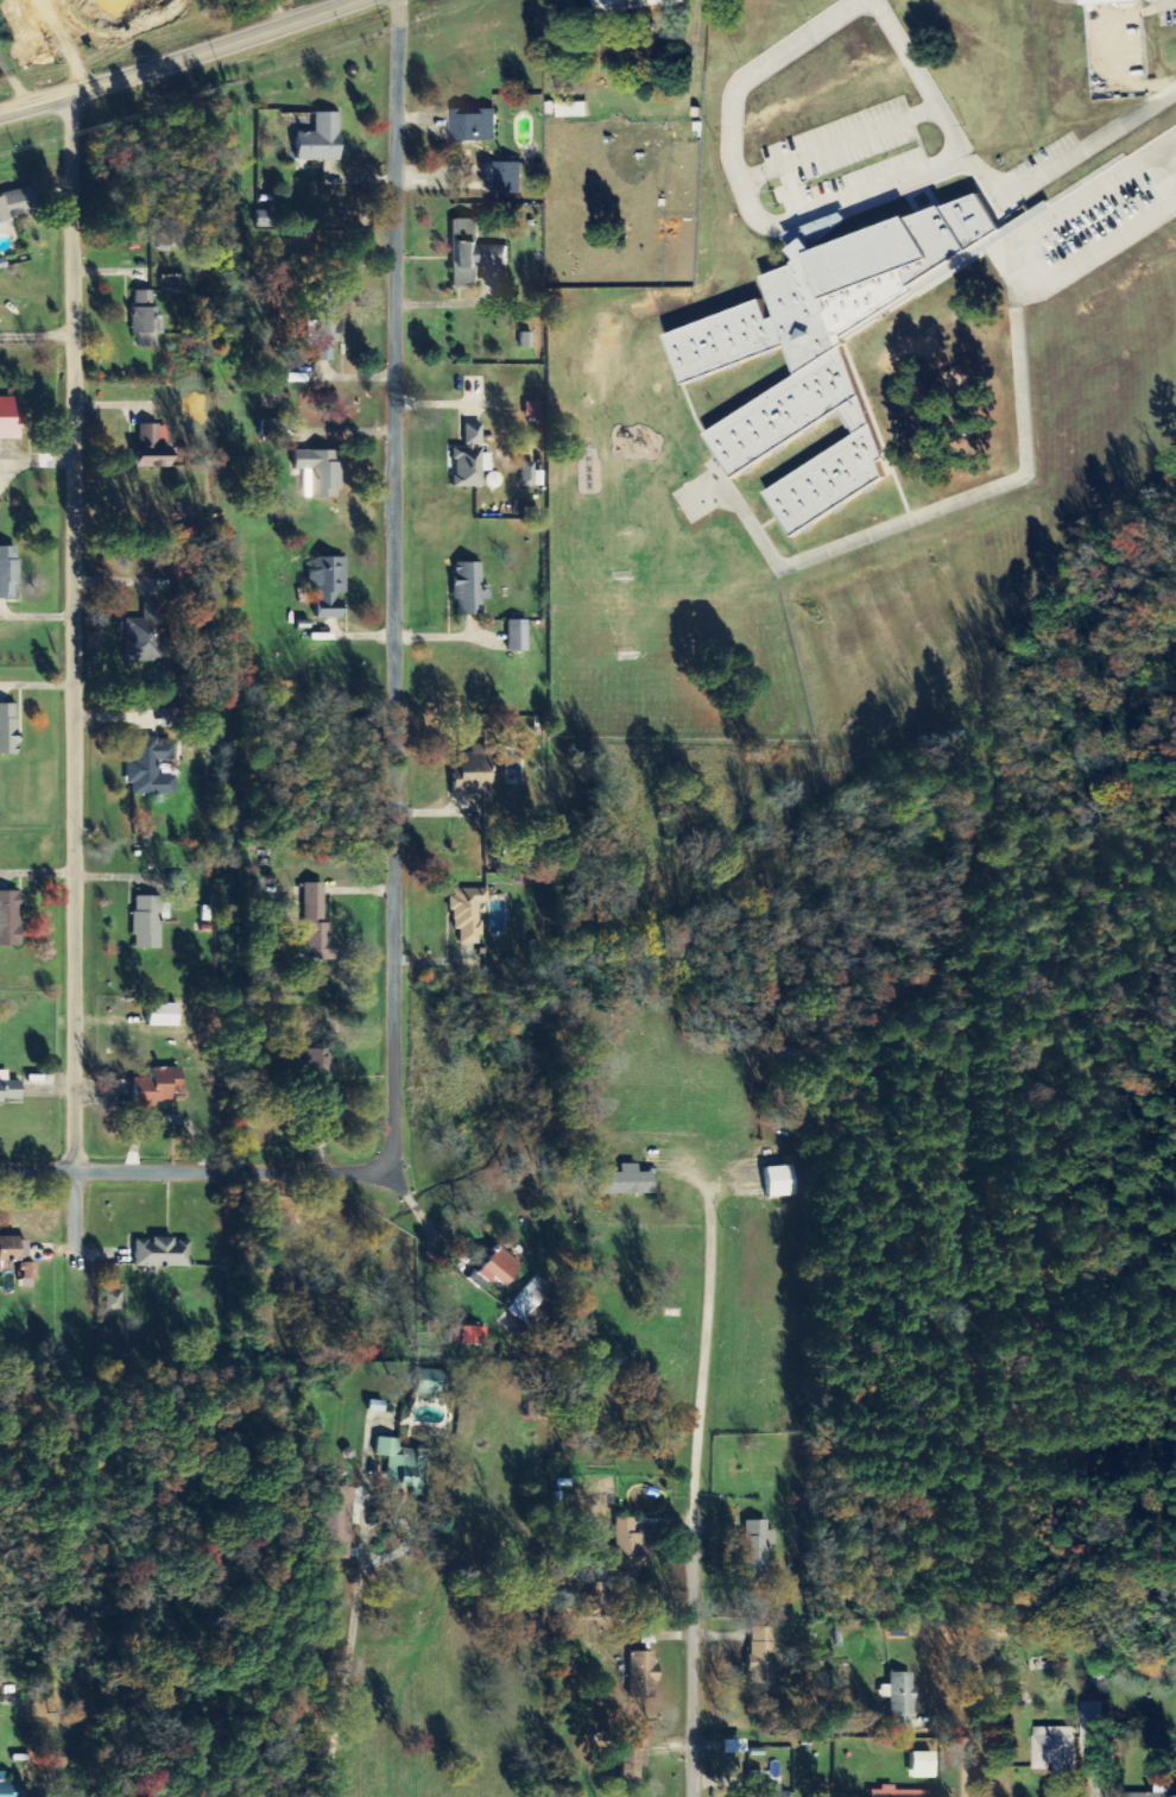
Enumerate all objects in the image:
building: (1108, 1)
building: (634, 5)
road: (103, 39)
road: (61, 45)
road: (182, 57)
building: (574, 111)
building: (474, 126)
building: (322, 139)
road: (837, 143)
building: (510, 179)
road: (741, 193)
road: (990, 193)
building: (17, 204)
road: (1098, 244)
building: (473, 254)
building: (146, 314)
building: (324, 326)
building: (526, 341)
building: (828, 349)
building: (10, 420)
building: (156, 448)
road: (1024, 450)
building: (470, 460)
building: (531, 475)
building: (494, 480)
building: (10, 573)
building: (329, 587)
building: (470, 589)
building: (145, 635)
building: (518, 636)
road: (81, 674)
building: (170, 717)
building: (8, 729)
building: (151, 765)
building: (474, 771)
road: (404, 777)
building: (469, 913)
building: (11, 919)
building: (147, 922)
building: (317, 926)
building: (164, 1014)
building: (322, 1067)
building: (159, 1086)
building: (10, 1089)
building: (625, 1181)
building: (782, 1181)
building: (14, 1248)
building: (163, 1253)
building: (498, 1268)
building: (27, 1275)
building: (114, 1300)
building: (532, 1304)
building: (468, 1335)
building: (428, 1385)
building: (402, 1462)
building: (337, 1522)
building: (758, 1547)
building: (630, 1549)
building: (764, 1653)
road: (701, 1654)
building: (643, 1675)
building: (900, 1698)
building: (1092, 1723)
building: (734, 1747)
building: (1056, 1751)
road: (981, 1755)
building: (634, 1760)
building: (923, 1765)
building: (10, 1786)
building: (770, 1789)
building: (898, 1792)
building: (1157, 1792)

